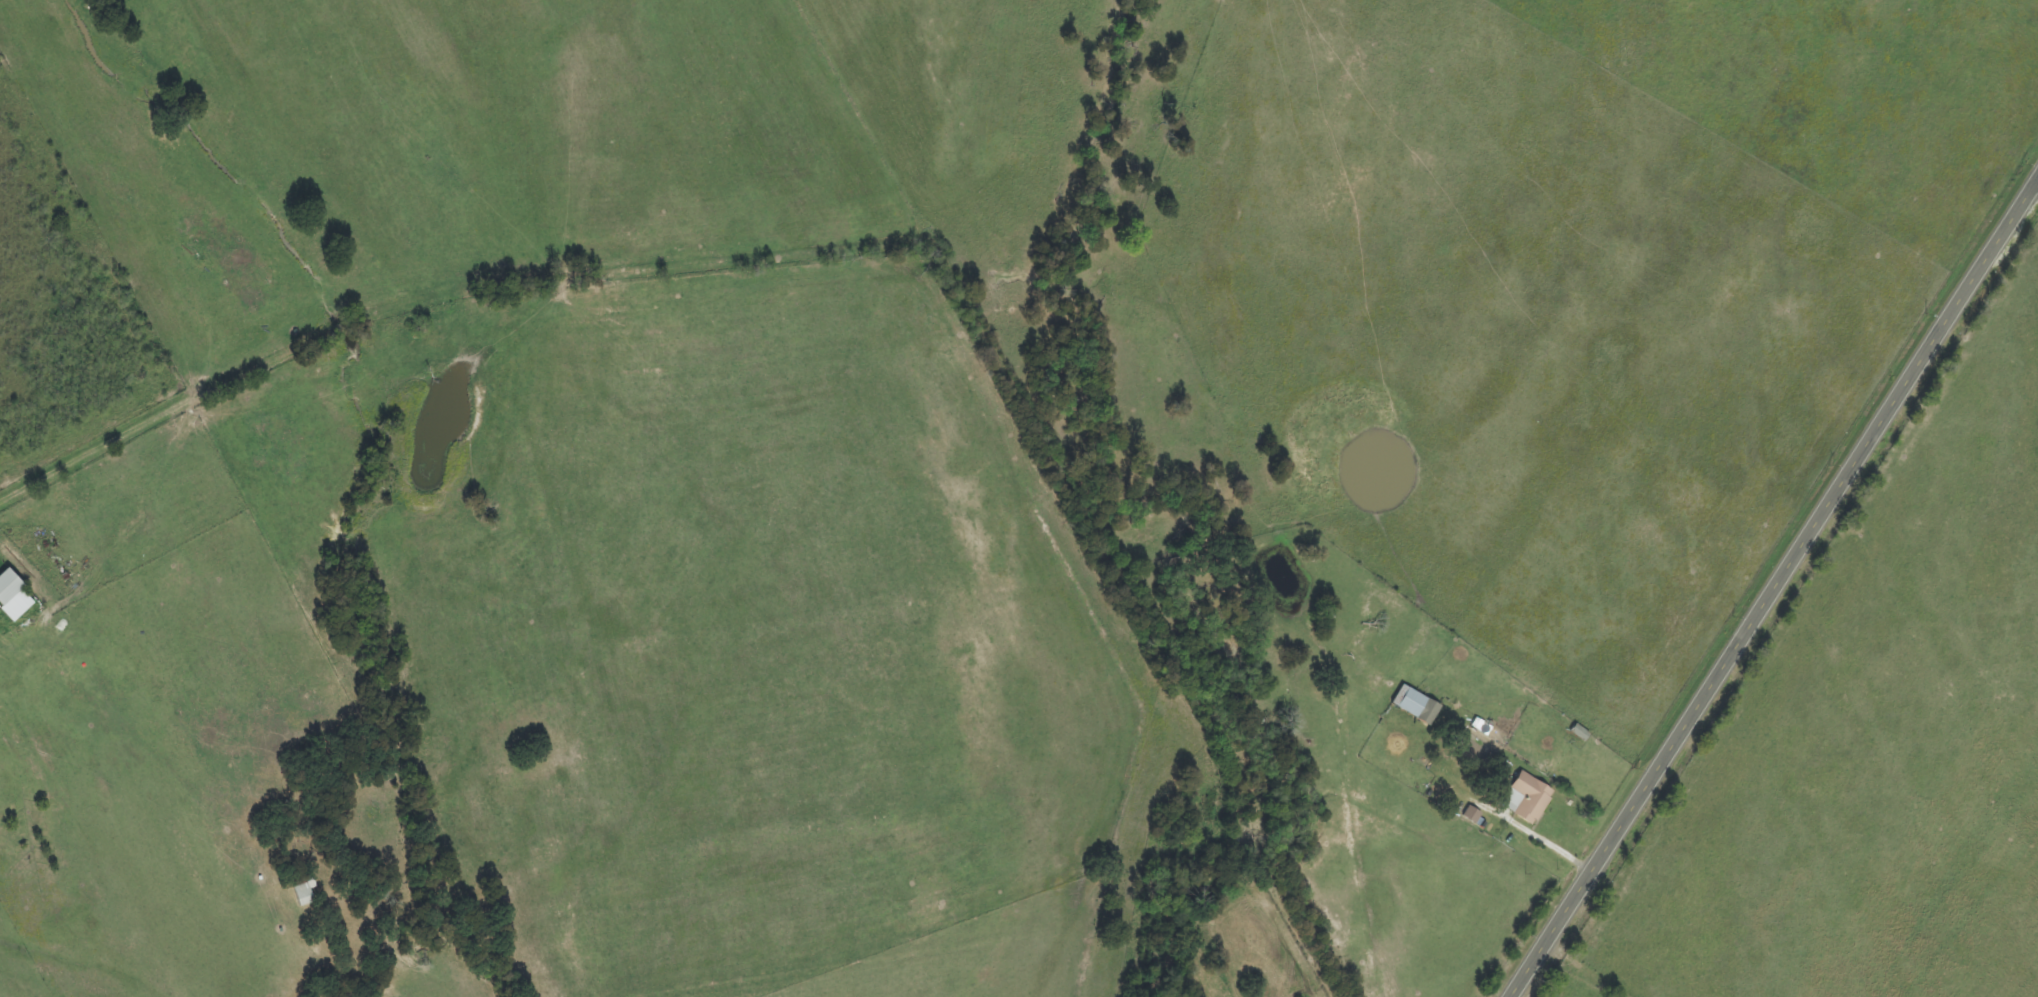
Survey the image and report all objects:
road: (1772, 592)
building: (13, 597)
building: (1417, 706)
building: (1528, 799)
building: (1473, 815)

